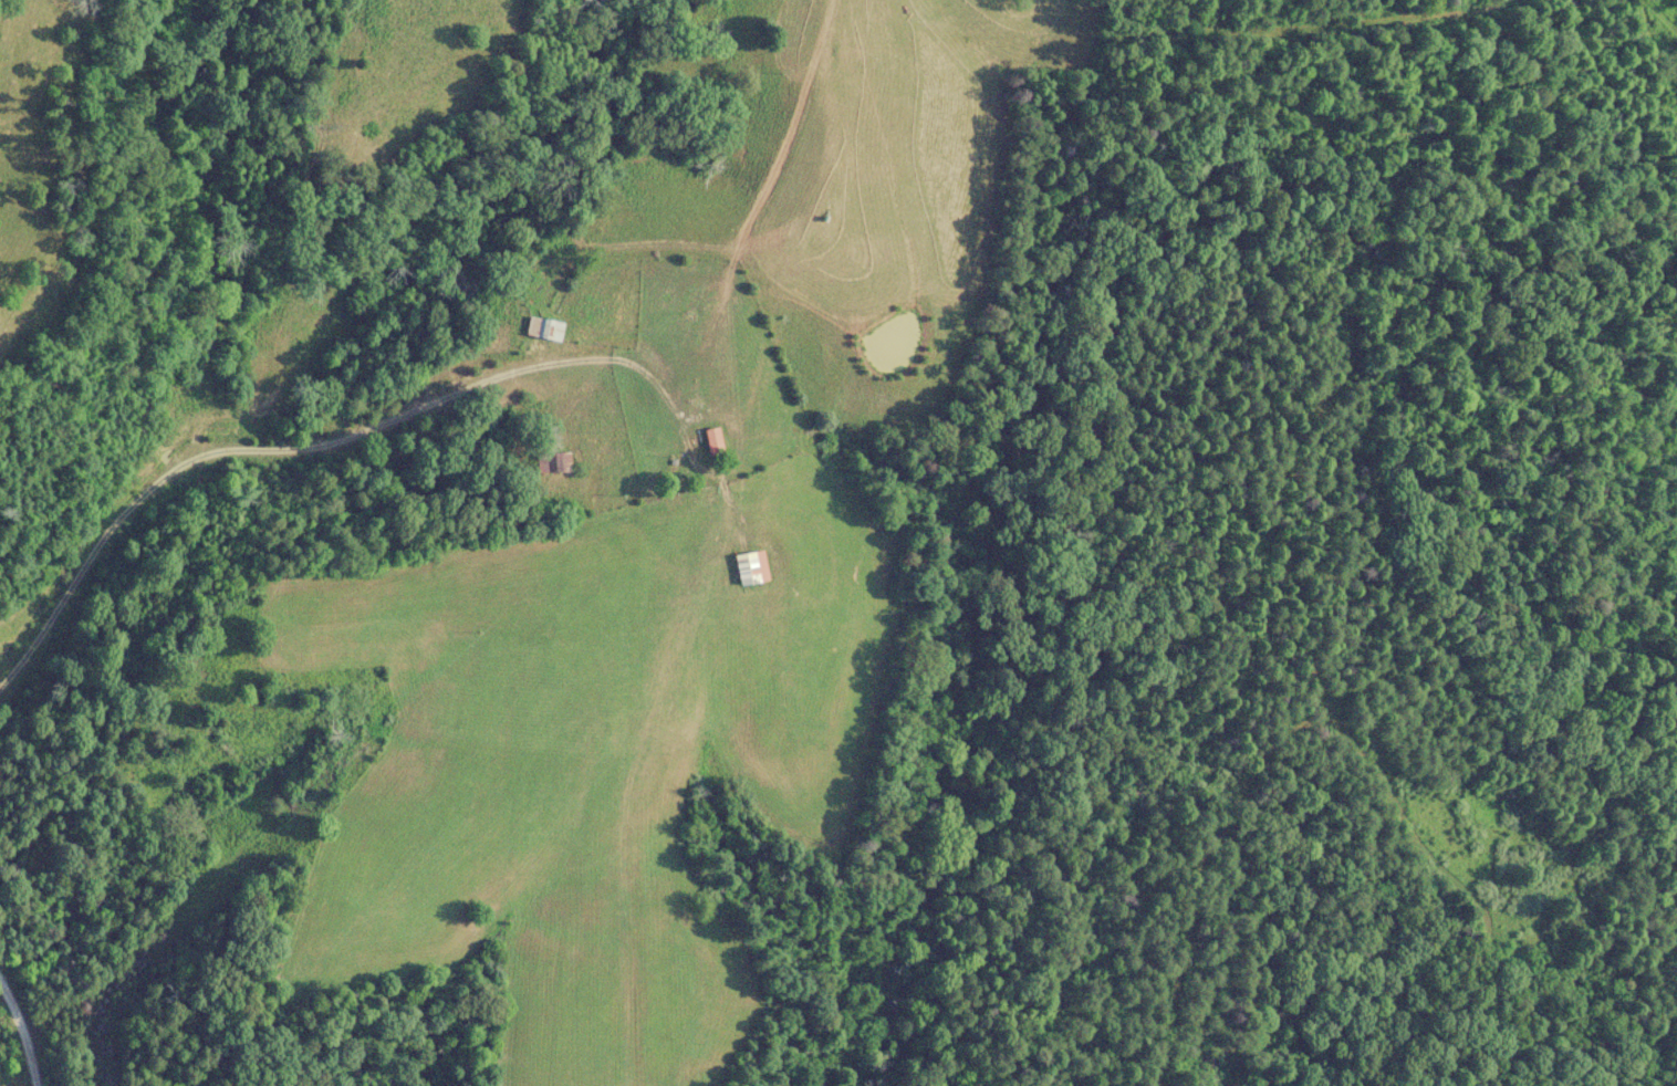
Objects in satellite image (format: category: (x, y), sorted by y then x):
building: (546, 331)

